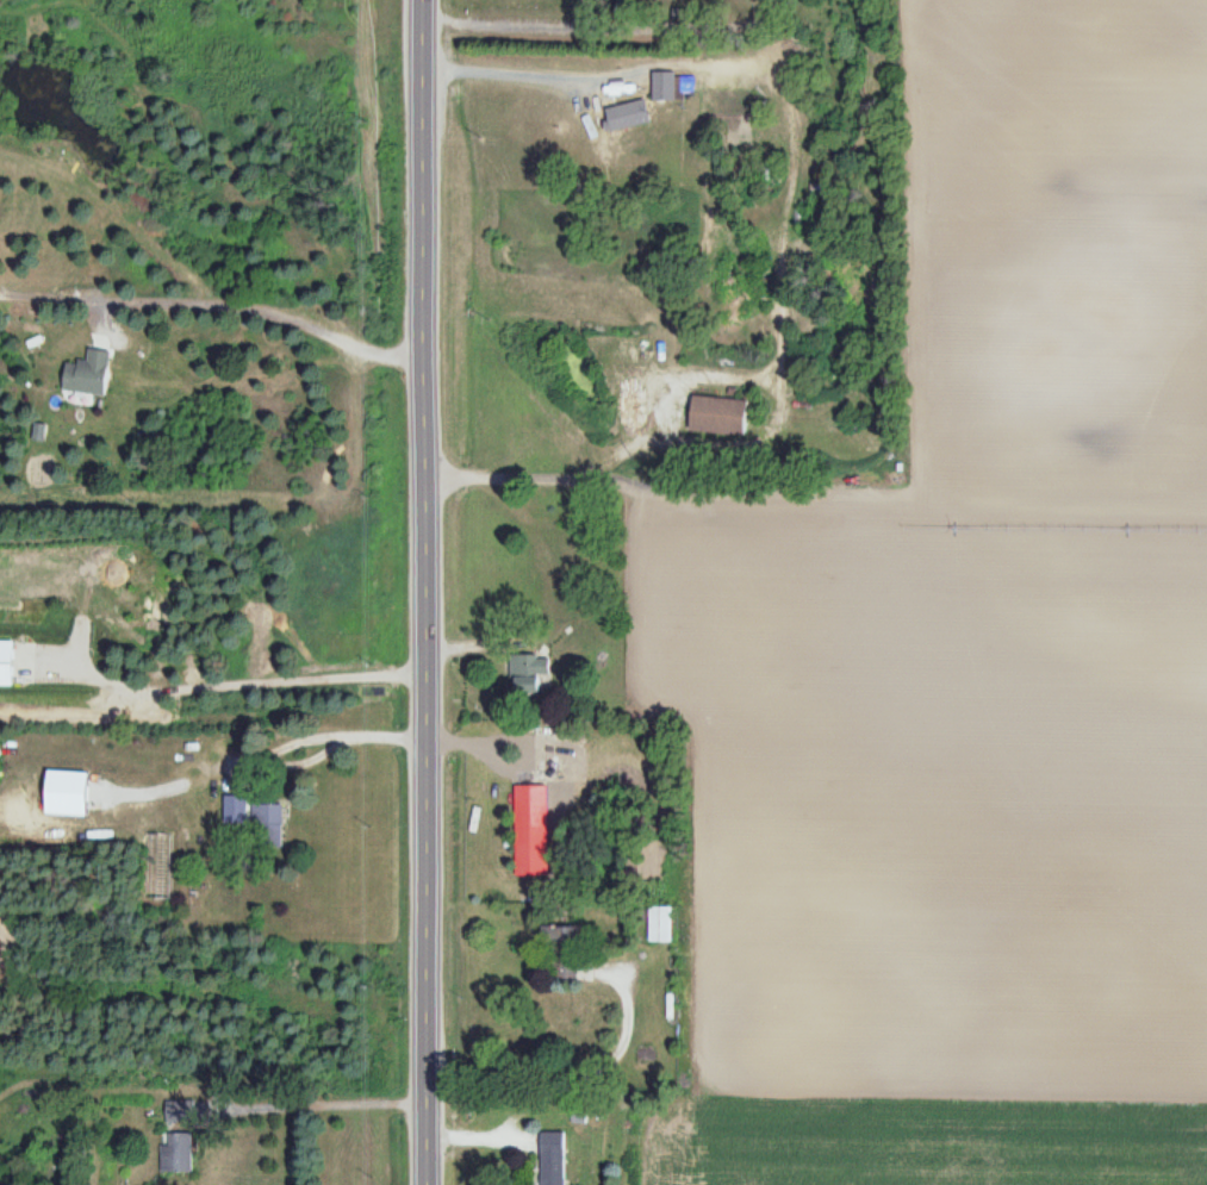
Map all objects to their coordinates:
park: (620, 23)
building: (672, 87)
road: (216, 305)
building: (91, 375)
building: (718, 416)
road: (424, 592)
building: (10, 663)
building: (525, 675)
building: (234, 810)
building: (267, 817)
building: (529, 831)
building: (665, 924)
building: (560, 940)
building: (180, 1111)
building: (178, 1153)
building: (553, 1159)

